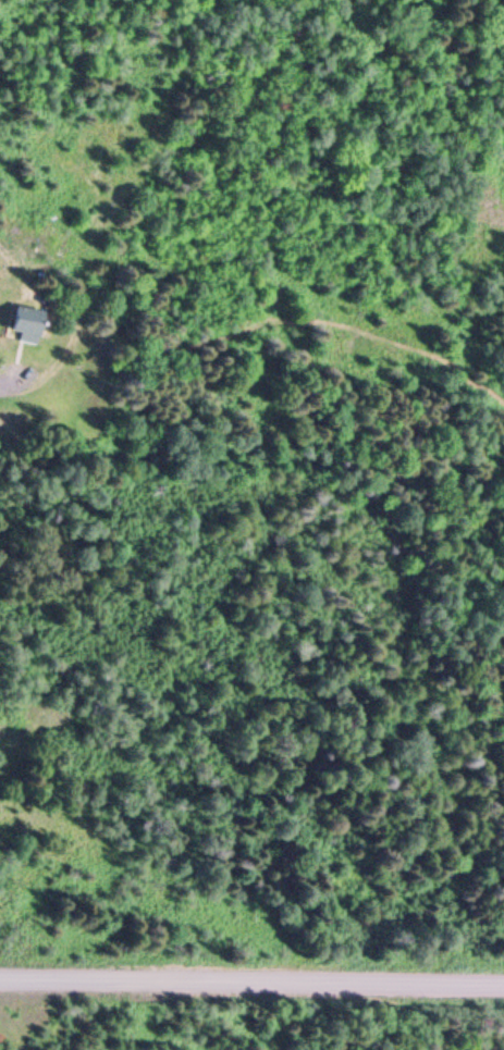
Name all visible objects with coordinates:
building: (26, 322)
road: (251, 977)

